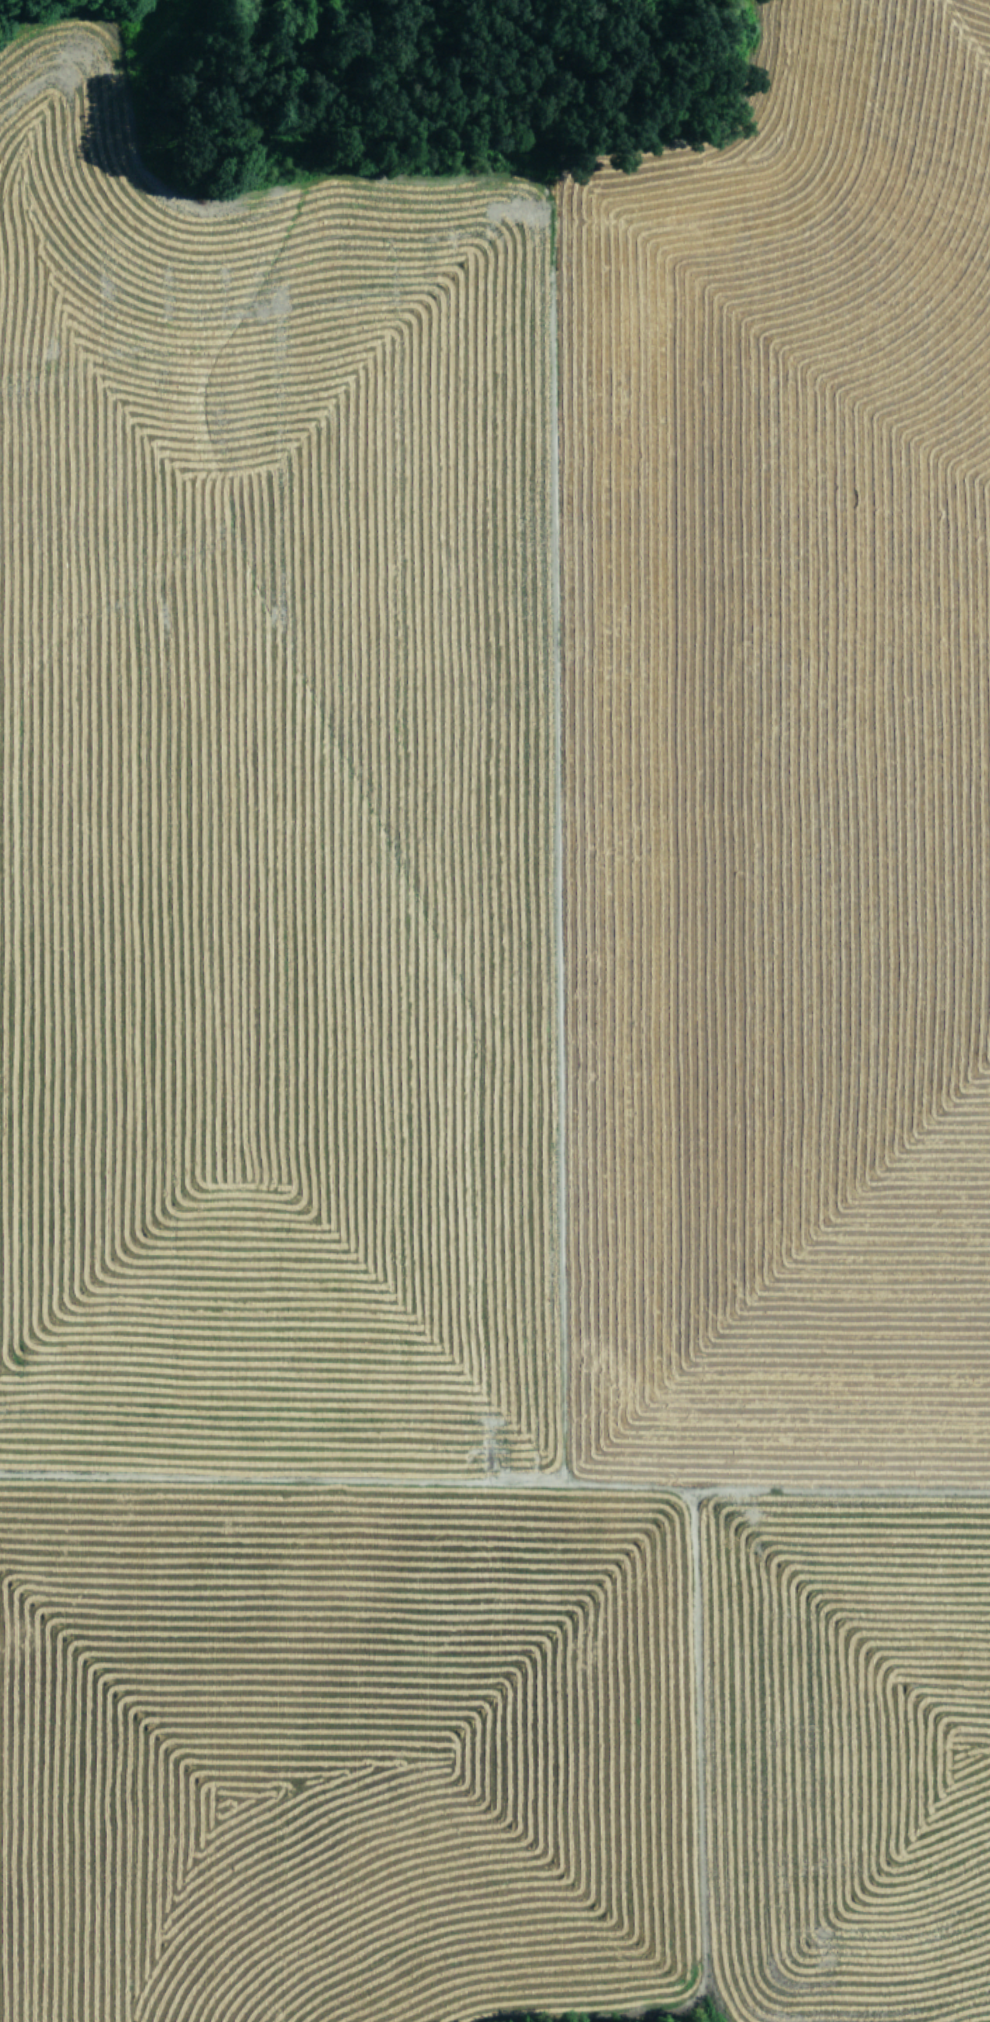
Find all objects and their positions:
crop: (500, 1054)

